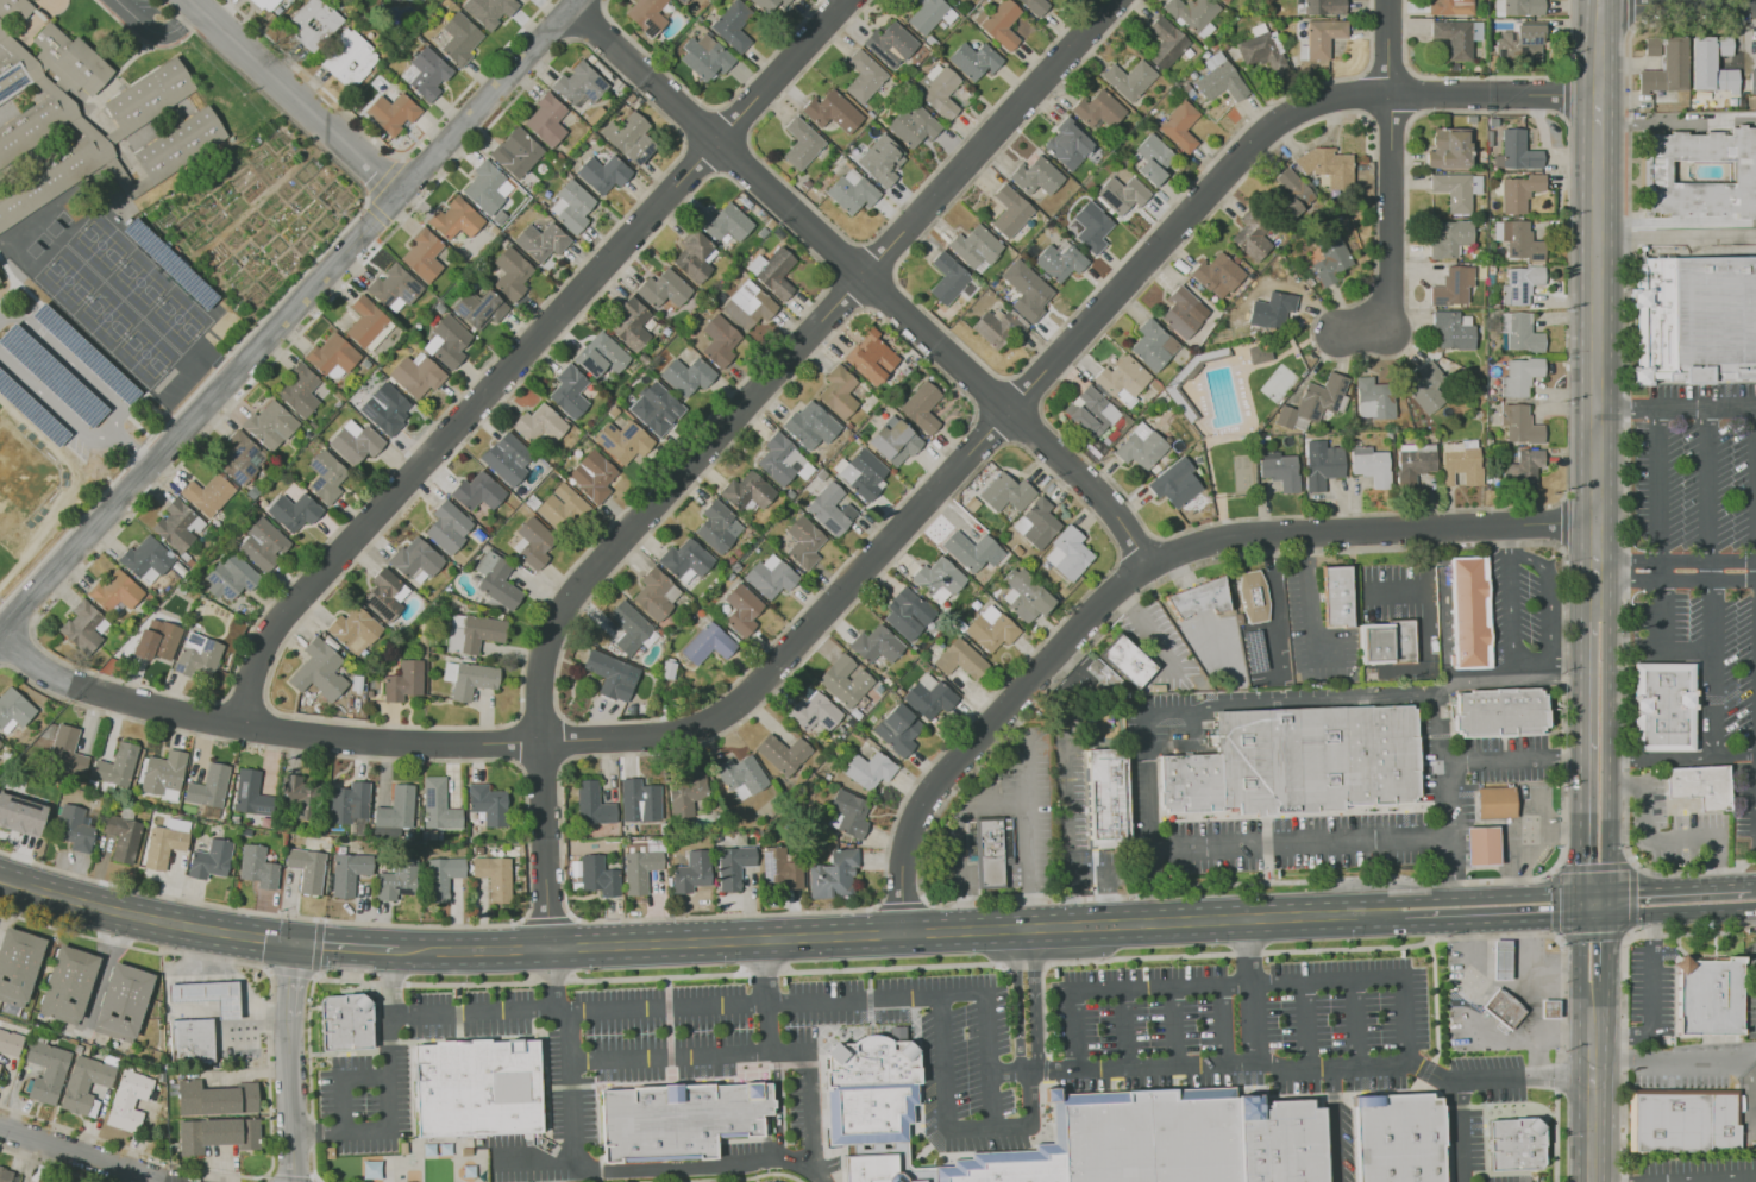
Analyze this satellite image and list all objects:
building: (1224, 0)
building: (682, 1)
building: (266, 4)
building: (771, 4)
road: (1680, 4)
building: (1034, 6)
building: (1323, 6)
building: (1449, 7)
building: (1517, 7)
building: (489, 11)
road: (604, 11)
building: (928, 14)
building: (1193, 14)
building: (648, 15)
road: (590, 24)
building: (1001, 24)
building: (733, 25)
building: (328, 27)
road: (155, 31)
road: (576, 37)
building: (1322, 37)
building: (1456, 37)
building: (460, 39)
building: (1519, 42)
building: (1165, 43)
building: (890, 44)
building: (1755, 44)
building: (1650, 45)
building: (1724, 45)
road: (1394, 48)
building: (1261, 50)
building: (707, 57)
building: (350, 58)
building: (973, 59)
building: (1666, 68)
building: (1708, 68)
building: (427, 73)
building: (863, 76)
road: (1488, 77)
building: (1128, 78)
building: (1218, 78)
building: (1752, 78)
road: (628, 83)
building: (581, 84)
building: (937, 90)
road: (291, 96)
building: (631, 98)
road: (711, 107)
building: (1097, 108)
building: (832, 111)
building: (393, 112)
building: (49, 119)
building: (548, 119)
road: (1694, 122)
road: (1618, 124)
building: (911, 126)
building: (1179, 126)
building: (631, 138)
building: (801, 143)
building: (1066, 144)
building: (1448, 149)
road: (393, 151)
building: (1516, 151)
building: (518, 152)
road: (402, 156)
building: (1150, 158)
building: (880, 161)
building: (1327, 166)
building: (604, 171)
building: (1035, 176)
building: (1699, 177)
road: (384, 178)
building: (488, 187)
building: (1456, 189)
building: (851, 191)
building: (1518, 191)
building: (1288, 193)
building: (1121, 194)
road: (366, 199)
road: (366, 202)
building: (572, 206)
building: (1009, 210)
road: (378, 213)
building: (500, 218)
building: (457, 219)
road: (1680, 221)
building: (727, 222)
road: (393, 226)
building: (1090, 227)
building: (495, 230)
building: (1250, 235)
road: (1679, 235)
road: (1396, 238)
building: (1450, 238)
building: (543, 240)
building: (1518, 240)
park: (101, 244)
building: (168, 244)
building: (974, 246)
building: (180, 254)
building: (425, 254)
building: (692, 257)
building: (1329, 259)
building: (1059, 260)
building: (772, 271)
building: (512, 272)
road: (870, 272)
building: (1216, 275)
park: (68, 278)
building: (947, 278)
building: (0, 279)
park: (139, 281)
building: (1519, 284)
building: (1453, 285)
building: (395, 288)
building: (663, 288)
building: (1026, 290)
road: (281, 297)
building: (747, 304)
building: (441, 308)
building: (482, 308)
building: (1271, 309)
road: (1601, 310)
building: (1183, 313)
park: (107, 315)
road: (287, 316)
park: (178, 317)
building: (1694, 319)
building: (369, 323)
building: (631, 323)
building: (997, 327)
building: (1453, 329)
building: (1519, 332)
building: (717, 340)
building: (449, 341)
building: (1153, 345)
park: (145, 352)
road: (527, 352)
building: (1259, 353)
building: (600, 354)
building: (333, 356)
road: (803, 357)
building: (870, 357)
building: (418, 375)
building: (686, 376)
building: (1519, 376)
building: (1123, 379)
parking lot: (61, 381)
building: (1426, 388)
building: (300, 390)
building: (569, 391)
building: (838, 391)
building: (1373, 398)
building: (1313, 402)
building: (921, 407)
building: (388, 408)
building: (656, 408)
road: (1677, 409)
building: (1090, 411)
road: (115, 419)
building: (539, 423)
building: (1519, 423)
building: (271, 425)
building: (809, 426)
building: (622, 441)
building: (893, 442)
building: (357, 444)
building: (1140, 447)
road: (1625, 448)
road: (134, 452)
building: (238, 458)
building: (507, 458)
building: (779, 460)
building: (1460, 461)
building: (1412, 463)
building: (1321, 464)
building: (1369, 465)
building: (1522, 467)
building: (1279, 470)
building: (861, 473)
building: (327, 476)
building: (591, 476)
park: (21, 477)
building: (1174, 483)
building: (477, 491)
building: (746, 491)
building: (1005, 492)
building: (208, 493)
road: (1073, 493)
building: (558, 505)
building: (830, 509)
building: (295, 511)
road: (1562, 522)
building: (1036, 523)
building: (447, 526)
building: (717, 526)
building: (180, 528)
road: (1507, 541)
building: (532, 542)
building: (803, 542)
building: (264, 543)
building: (971, 551)
building: (1067, 553)
road: (1658, 555)
parking lot: (1704, 555)
building: (148, 559)
building: (415, 560)
building: (685, 560)
road: (1677, 560)
road: (1142, 561)
building: (181, 568)
building: (770, 576)
building: (231, 577)
building: (495, 579)
road: (861, 579)
building: (936, 579)
road: (1677, 580)
road: (1713, 581)
building: (117, 592)
building: (656, 593)
building: (384, 595)
building: (1024, 595)
road: (1306, 595)
building: (1253, 596)
building: (1336, 596)
building: (1197, 598)
building: (741, 609)
road: (1564, 610)
building: (907, 612)
building: (1468, 612)
road: (1147, 624)
building: (84, 627)
building: (990, 628)
building: (353, 630)
road: (30, 633)
building: (454, 633)
building: (481, 633)
building: (158, 640)
building: (1386, 641)
building: (707, 643)
building: (874, 645)
road: (17, 648)
building: (199, 655)
building: (959, 659)
road: (1543, 659)
road: (1573, 660)
building: (1125, 661)
road: (1, 662)
building: (319, 669)
road: (1475, 672)
building: (610, 674)
building: (469, 678)
building: (403, 680)
building: (843, 680)
building: (928, 696)
road: (1369, 698)
building: (14, 709)
building: (1672, 710)
building: (813, 712)
building: (1507, 718)
building: (897, 729)
road: (1436, 734)
building: (0, 743)
road: (1027, 749)
building: (68, 750)
building: (782, 753)
road: (1735, 754)
road: (1656, 756)
road: (1598, 760)
building: (115, 765)
building: (867, 769)
building: (1302, 769)
building: (162, 774)
building: (740, 775)
building: (208, 786)
building: (250, 793)
building: (684, 793)
building: (1701, 793)
building: (299, 796)
building: (1109, 799)
building: (639, 800)
building: (347, 801)
road: (992, 801)
building: (1494, 801)
building: (592, 803)
building: (488, 804)
building: (437, 805)
building: (394, 812)
building: (849, 812)
building: (20, 815)
road: (1514, 825)
road: (1067, 826)
building: (74, 828)
building: (121, 837)
road: (1660, 838)
road: (527, 841)
building: (164, 842)
road: (1342, 843)
road: (546, 844)
building: (1481, 845)
building: (1002, 856)
building: (209, 860)
building: (732, 866)
building: (257, 867)
building: (306, 868)
building: (779, 869)
building: (639, 870)
building: (691, 872)
building: (347, 873)
building: (833, 874)
road: (1451, 874)
building: (494, 875)
building: (596, 875)
building: (443, 876)
building: (397, 880)
road: (14, 881)
road: (1754, 894)
road: (1674, 897)
traffic signals: (1597, 900)
road: (899, 904)
road: (1500, 905)
road: (547, 917)
road: (159, 922)
road: (1629, 929)
road: (902, 935)
traffic signals: (295, 947)
road: (1379, 947)
road: (346, 948)
building: (1500, 960)
building: (18, 964)
road: (314, 969)
road: (1528, 970)
road: (553, 979)
road: (1501, 983)
building: (69, 985)
road: (1243, 985)
road: (1252, 991)
road: (1625, 993)
road: (766, 995)
building: (211, 996)
road: (1434, 999)
building: (123, 1001)
road: (1017, 1001)
road: (1035, 1001)
building: (1716, 1001)
road: (755, 1004)
building: (1503, 1008)
building: (1548, 1008)
gas station: (213, 1014)
road: (1355, 1023)
road: (1538, 1024)
building: (352, 1025)
road: (1223, 1025)
road: (1305, 1025)
road: (1480, 1025)
parking lot: (997, 1027)
road: (1174, 1027)
road: (1124, 1029)
building: (193, 1040)
road: (1594, 1040)
building: (11, 1043)
building: (79, 1049)
building: (88, 1050)
road: (755, 1052)
road: (1676, 1058)
road: (290, 1063)
building: (0, 1065)
road: (1046, 1068)
building: (46, 1069)
road: (1293, 1069)
road: (1426, 1070)
road: (269, 1073)
road: (308, 1080)
road: (343, 1082)
building: (88, 1083)
road: (571, 1084)
road: (388, 1088)
road: (1749, 1089)
building: (481, 1090)
building: (218, 1099)
building: (130, 1100)
road: (779, 1106)
building: (1689, 1118)
building: (685, 1121)
road: (1335, 1125)
road: (952, 1128)
building: (1078, 1132)
road: (1459, 1132)
building: (219, 1134)
building: (1396, 1138)
building: (1517, 1144)
road: (83, 1155)
road: (50, 1165)
building: (371, 1169)
road: (652, 1169)
building: (6, 1175)
road: (293, 1177)
road: (269, 1178)
road: (733, 1178)
road: (1723, 1180)
road: (1595, 1181)

